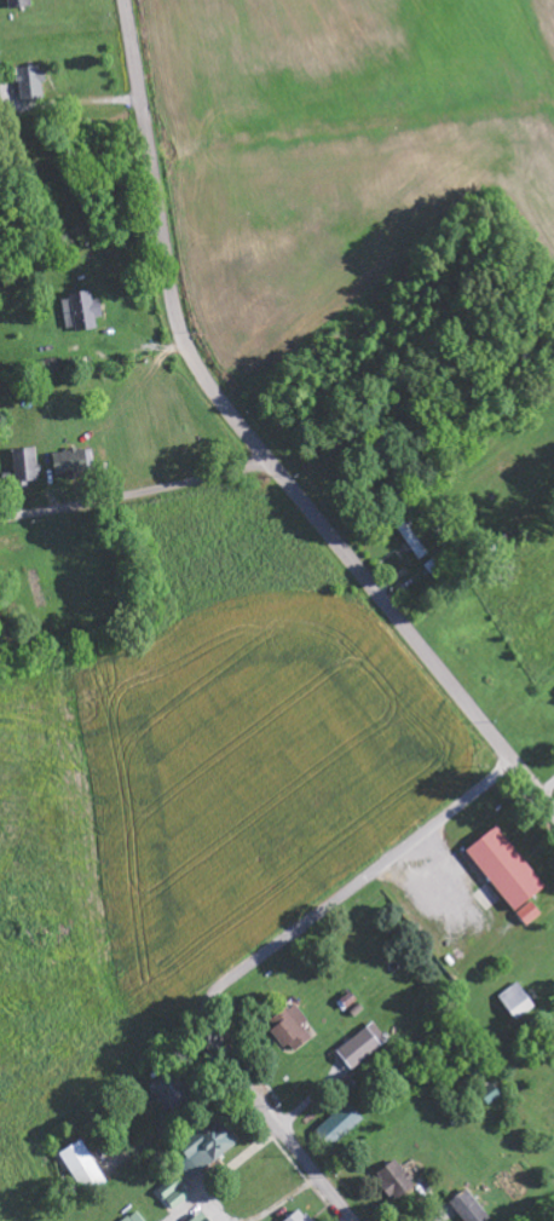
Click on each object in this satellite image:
building: (21, 4)
building: (31, 82)
building: (81, 312)
road: (256, 443)
building: (74, 462)
building: (27, 466)
road: (137, 496)
building: (411, 538)
building: (506, 869)
building: (529, 915)
road: (254, 960)
building: (518, 1002)
building: (290, 1027)
building: (363, 1046)
building: (171, 1093)
building: (491, 1095)
building: (340, 1125)
building: (204, 1150)
building: (83, 1168)
building: (394, 1180)
building: (174, 1193)
building: (469, 1208)
building: (299, 1216)
building: (135, 1217)
building: (201, 1217)

